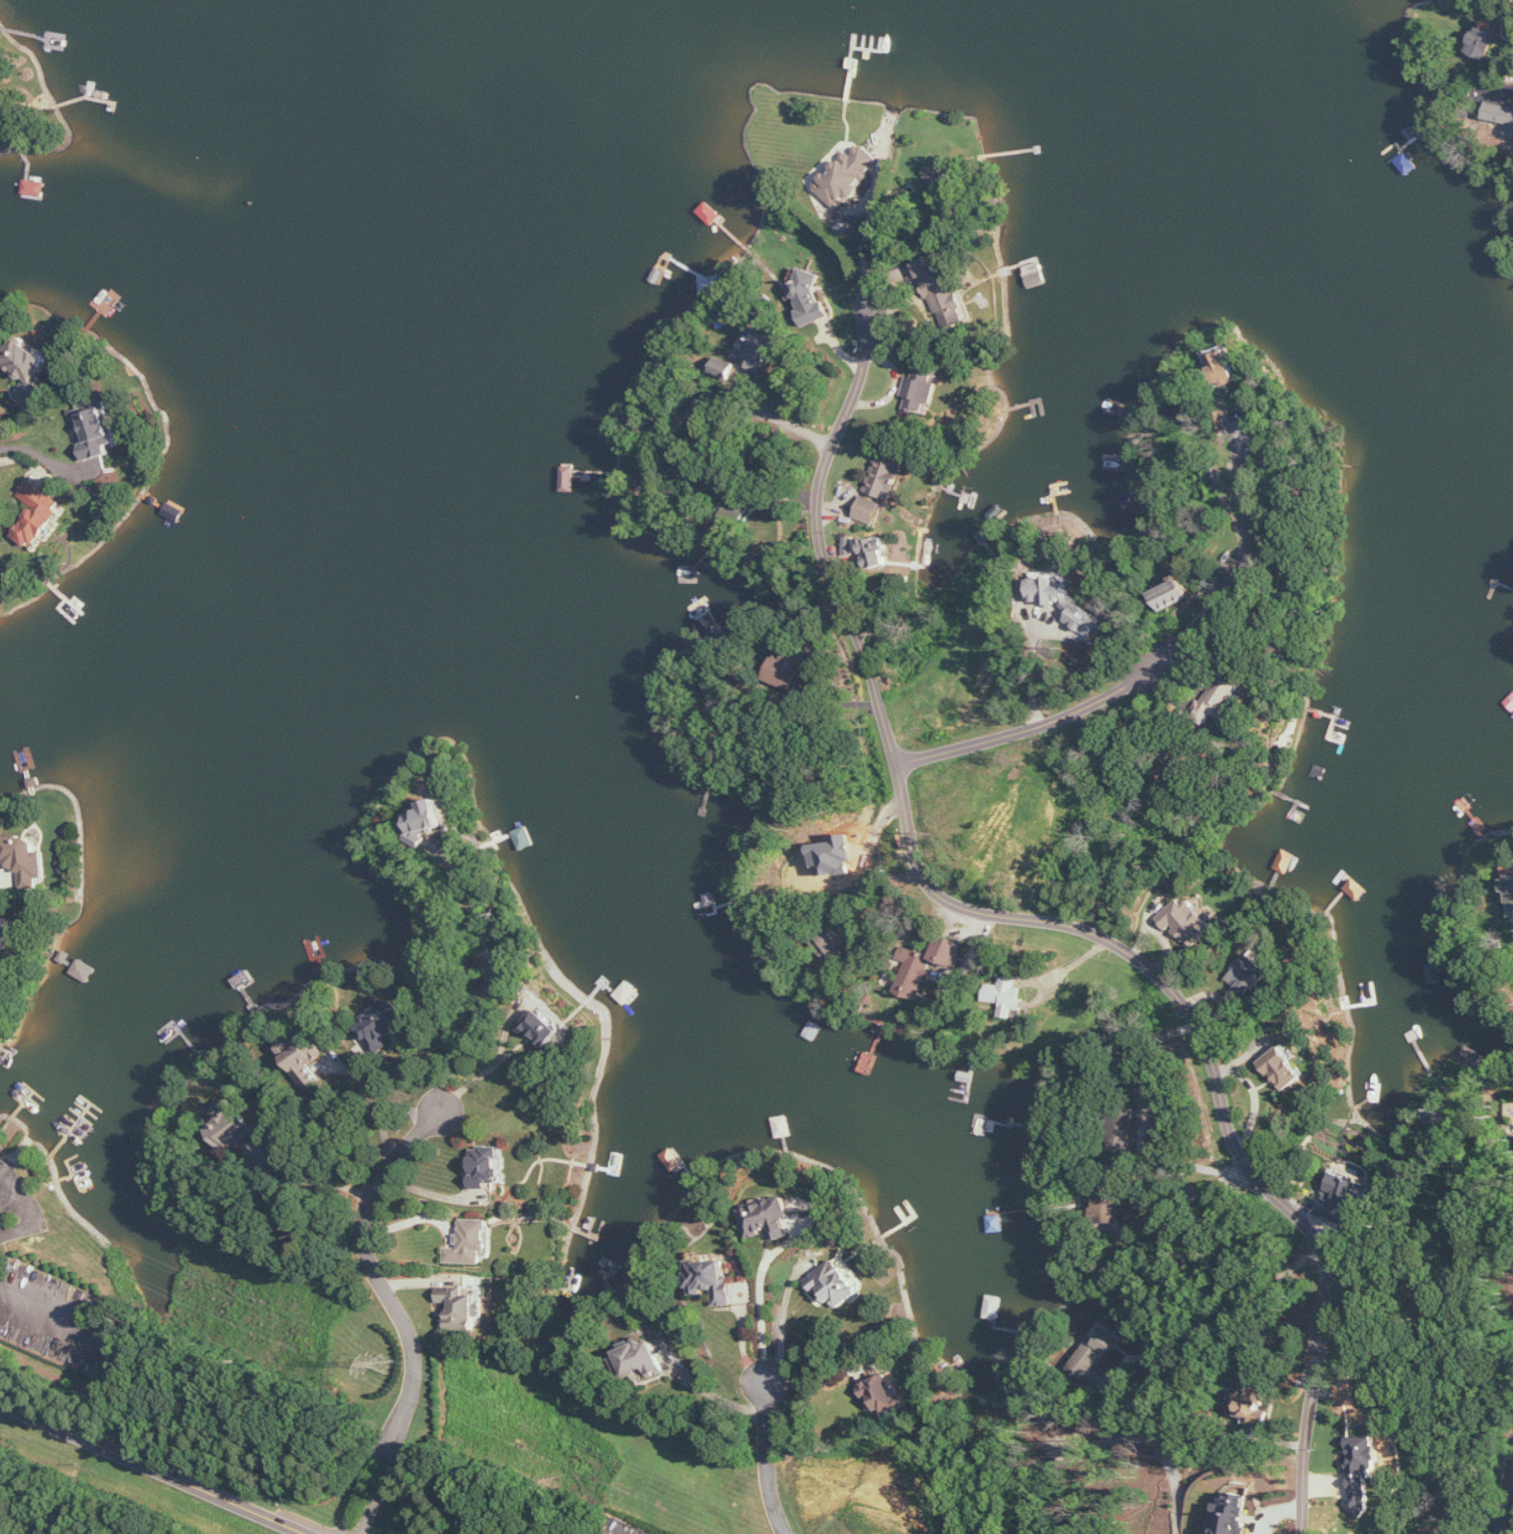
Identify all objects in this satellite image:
building: (1484, 38)
building: (1500, 114)
building: (848, 176)
road: (867, 235)
building: (943, 291)
building: (810, 298)
building: (758, 346)
building: (27, 366)
building: (723, 368)
building: (1221, 368)
building: (921, 391)
road: (747, 408)
road: (23, 415)
building: (96, 429)
road: (47, 459)
building: (886, 476)
building: (735, 503)
building: (869, 510)
building: (39, 513)
building: (850, 546)
building: (877, 552)
building: (1048, 588)
building: (1172, 595)
building: (1084, 620)
building: (788, 667)
road: (1031, 669)
road: (1140, 677)
building: (1220, 698)
building: (428, 817)
building: (25, 859)
building: (1285, 861)
road: (872, 882)
building: (1509, 889)
road: (1051, 919)
building: (1187, 921)
building: (6, 932)
building: (837, 945)
building: (926, 964)
building: (1250, 973)
road: (488, 982)
building: (1006, 996)
building: (383, 1023)
building: (543, 1027)
building: (302, 1057)
building: (1283, 1069)
road: (487, 1073)
road: (392, 1096)
road: (375, 1101)
building: (1438, 1121)
road: (1144, 1128)
building: (244, 1129)
building: (1121, 1140)
road: (1487, 1146)
building: (488, 1169)
road: (310, 1179)
road: (430, 1191)
building: (1346, 1197)
building: (1109, 1210)
road: (27, 1212)
building: (769, 1219)
road: (415, 1220)
road: (1197, 1233)
building: (472, 1242)
road: (376, 1271)
road: (431, 1278)
building: (712, 1280)
building: (834, 1281)
road: (765, 1306)
building: (461, 1308)
road: (786, 1315)
road: (58, 1316)
road: (1226, 1319)
road: (747, 1343)
building: (1095, 1354)
building: (639, 1361)
power tower: (386, 1365)
road: (816, 1382)
building: (884, 1393)
road: (719, 1398)
building: (1251, 1404)
road: (386, 1451)
road: (779, 1459)
road: (154, 1468)
building: (1363, 1471)
park: (87, 1495)
road: (1272, 1504)
road: (1507, 1514)

